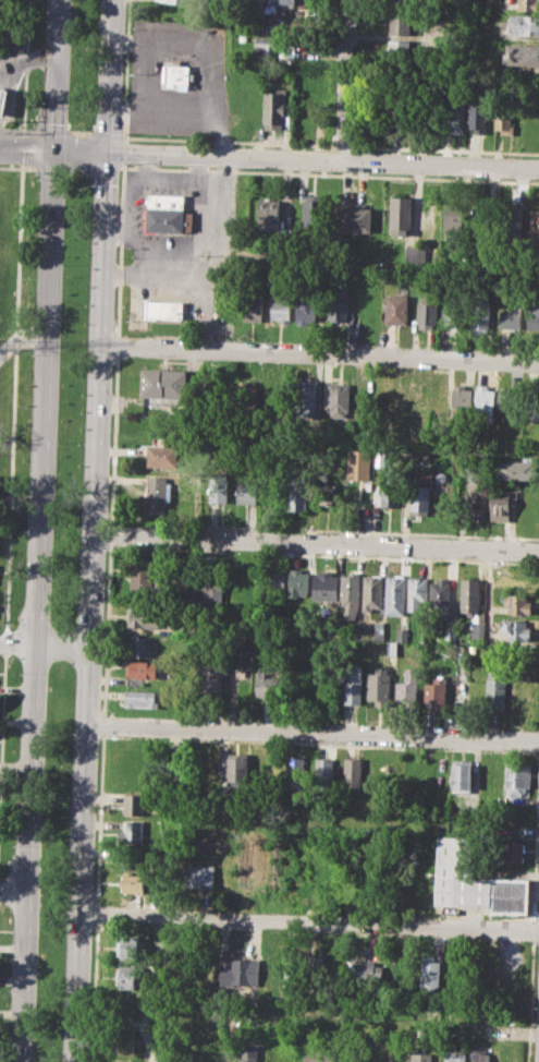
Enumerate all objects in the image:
building: (186, 1)
building: (283, 2)
building: (403, 3)
building: (528, 4)
building: (254, 9)
street lamp: (44, 20)
building: (524, 23)
building: (400, 24)
street lamp: (125, 31)
building: (266, 45)
building: (400, 50)
building: (522, 53)
road: (27, 59)
road: (201, 63)
road: (24, 65)
park: (83, 65)
road: (125, 70)
building: (314, 72)
building: (175, 74)
road: (56, 76)
road: (109, 76)
road: (145, 76)
road: (346, 81)
building: (2, 100)
gas station: (2, 100)
street lamp: (122, 100)
street lamp: (39, 104)
road: (161, 106)
building: (273, 109)
building: (453, 112)
building: (401, 113)
building: (503, 116)
building: (477, 117)
road: (15, 128)
road: (50, 130)
street lamp: (20, 132)
road: (79, 132)
road: (106, 133)
road: (123, 136)
road: (229, 141)
road: (343, 144)
road: (22, 147)
road: (446, 148)
road: (124, 150)
road: (26, 152)
road: (79, 153)
road: (322, 160)
street lamp: (127, 165)
road: (199, 168)
road: (167, 178)
street lamp: (37, 181)
street lamp: (90, 186)
road: (212, 210)
building: (168, 213)
building: (268, 214)
building: (313, 214)
building: (400, 215)
building: (454, 216)
building: (355, 217)
building: (512, 219)
road: (132, 222)
road: (118, 226)
building: (534, 230)
parking lot: (183, 240)
road: (120, 248)
building: (412, 253)
street lamp: (115, 256)
street lamp: (62, 267)
road: (193, 275)
building: (338, 301)
building: (253, 305)
building: (280, 307)
building: (395, 307)
building: (163, 309)
building: (306, 309)
building: (427, 310)
building: (455, 310)
building: (480, 314)
building: (511, 317)
building: (532, 321)
street lamp: (130, 335)
road: (21, 338)
road: (117, 345)
street lamp: (85, 353)
road: (318, 353)
street lamp: (30, 357)
building: (163, 383)
building: (249, 396)
building: (461, 397)
road: (13, 398)
building: (305, 398)
park: (71, 399)
building: (415, 399)
building: (340, 400)
building: (485, 400)
building: (510, 401)
building: (531, 402)
road: (113, 439)
street lamp: (110, 441)
street lamp: (57, 443)
building: (500, 443)
building: (514, 445)
building: (161, 452)
building: (359, 463)
building: (517, 469)
building: (160, 484)
building: (369, 486)
building: (218, 487)
building: (248, 492)
building: (390, 492)
building: (421, 492)
building: (443, 492)
building: (327, 493)
building: (298, 495)
building: (477, 499)
building: (499, 504)
road: (39, 520)
street lamp: (24, 530)
road: (94, 532)
road: (110, 533)
street lamp: (77, 540)
road: (316, 542)
building: (140, 576)
building: (515, 577)
building: (275, 581)
building: (299, 583)
road: (489, 584)
building: (326, 586)
building: (192, 587)
building: (215, 588)
building: (417, 591)
building: (372, 592)
building: (351, 594)
building: (395, 594)
building: (468, 594)
building: (439, 598)
building: (516, 603)
building: (145, 612)
street lamp: (50, 617)
road: (107, 628)
building: (306, 628)
building: (334, 628)
building: (379, 629)
building: (516, 629)
street lamp: (103, 632)
building: (403, 635)
building: (450, 635)
road: (4, 643)
road: (45, 643)
building: (140, 644)
building: (392, 648)
building: (142, 669)
street lamp: (20, 672)
building: (212, 676)
building: (535, 678)
building: (266, 679)
road: (234, 680)
building: (354, 685)
building: (379, 685)
building: (407, 686)
building: (497, 690)
building: (436, 691)
building: (520, 693)
building: (143, 698)
road: (2, 710)
road: (103, 723)
street lamp: (71, 733)
road: (313, 733)
street lamp: (45, 759)
road: (15, 768)
building: (238, 769)
building: (296, 771)
building: (323, 771)
building: (352, 772)
building: (461, 775)
building: (432, 777)
building: (517, 777)
building: (134, 804)
road: (100, 818)
building: (132, 831)
street lamp: (96, 832)
street lamp: (14, 843)
building: (507, 852)
park: (53, 864)
building: (201, 876)
building: (136, 881)
building: (477, 881)
road: (13, 889)
street lamp: (39, 905)
road: (97, 913)
street lamp: (65, 917)
road: (310, 921)
street lamp: (109, 924)
building: (128, 946)
building: (313, 969)
building: (364, 972)
building: (240, 973)
building: (430, 974)
road: (24, 975)
building: (127, 977)
road: (78, 987)
street lamp: (8, 990)
road: (94, 992)
building: (125, 1009)
street lamp: (88, 1025)
building: (125, 1039)
building: (248, 1053)
building: (392, 1055)
building: (481, 1055)
building: (420, 1057)
building: (455, 1057)
building: (323, 1058)
building: (362, 1058)
building: (124, 1061)

